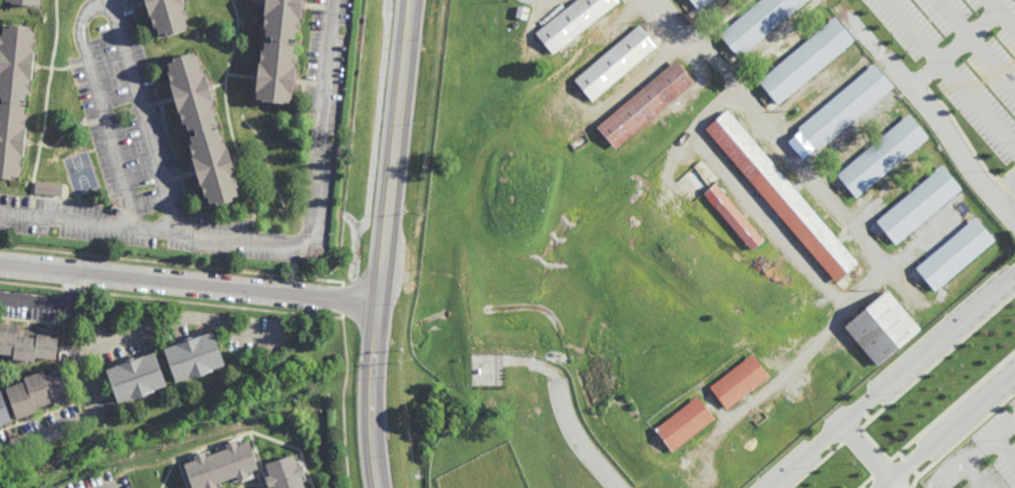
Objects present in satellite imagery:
road: (257, 1)
building: (24, 2)
road: (839, 3)
building: (700, 4)
road: (128, 8)
road: (319, 9)
building: (521, 12)
road: (1002, 14)
building: (163, 16)
building: (572, 23)
building: (757, 23)
road: (969, 35)
road: (977, 43)
road: (927, 45)
building: (276, 52)
parking lot: (964, 57)
building: (805, 61)
building: (614, 63)
road: (63, 69)
road: (240, 76)
road: (311, 86)
road: (218, 87)
building: (14, 97)
building: (644, 105)
road: (978, 105)
road: (101, 106)
road: (156, 106)
road: (47, 107)
building: (844, 108)
road: (930, 109)
road: (142, 115)
road: (227, 121)
building: (200, 132)
road: (963, 133)
road: (64, 135)
parking lot: (136, 153)
building: (883, 154)
road: (235, 161)
park: (81, 173)
road: (176, 179)
road: (1006, 187)
building: (48, 188)
road: (1007, 193)
building: (781, 196)
building: (923, 201)
building: (733, 219)
road: (858, 236)
road: (279, 243)
road: (388, 243)
building: (961, 246)
road: (166, 264)
road: (191, 281)
road: (336, 299)
road: (34, 301)
road: (211, 306)
road: (362, 322)
building: (882, 328)
road: (139, 330)
building: (28, 343)
building: (192, 359)
building: (134, 380)
building: (740, 381)
road: (890, 381)
building: (39, 393)
road: (344, 401)
building: (3, 413)
road: (81, 421)
building: (685, 422)
road: (862, 430)
road: (950, 430)
road: (851, 434)
road: (242, 436)
road: (579, 437)
road: (961, 441)
road: (871, 454)
road: (977, 455)
parking lot: (981, 458)
road: (259, 460)
road: (816, 465)
building: (221, 466)
road: (881, 468)
building: (284, 473)
road: (181, 474)
road: (866, 482)
road: (120, 485)
road: (252, 486)
road: (862, 487)

